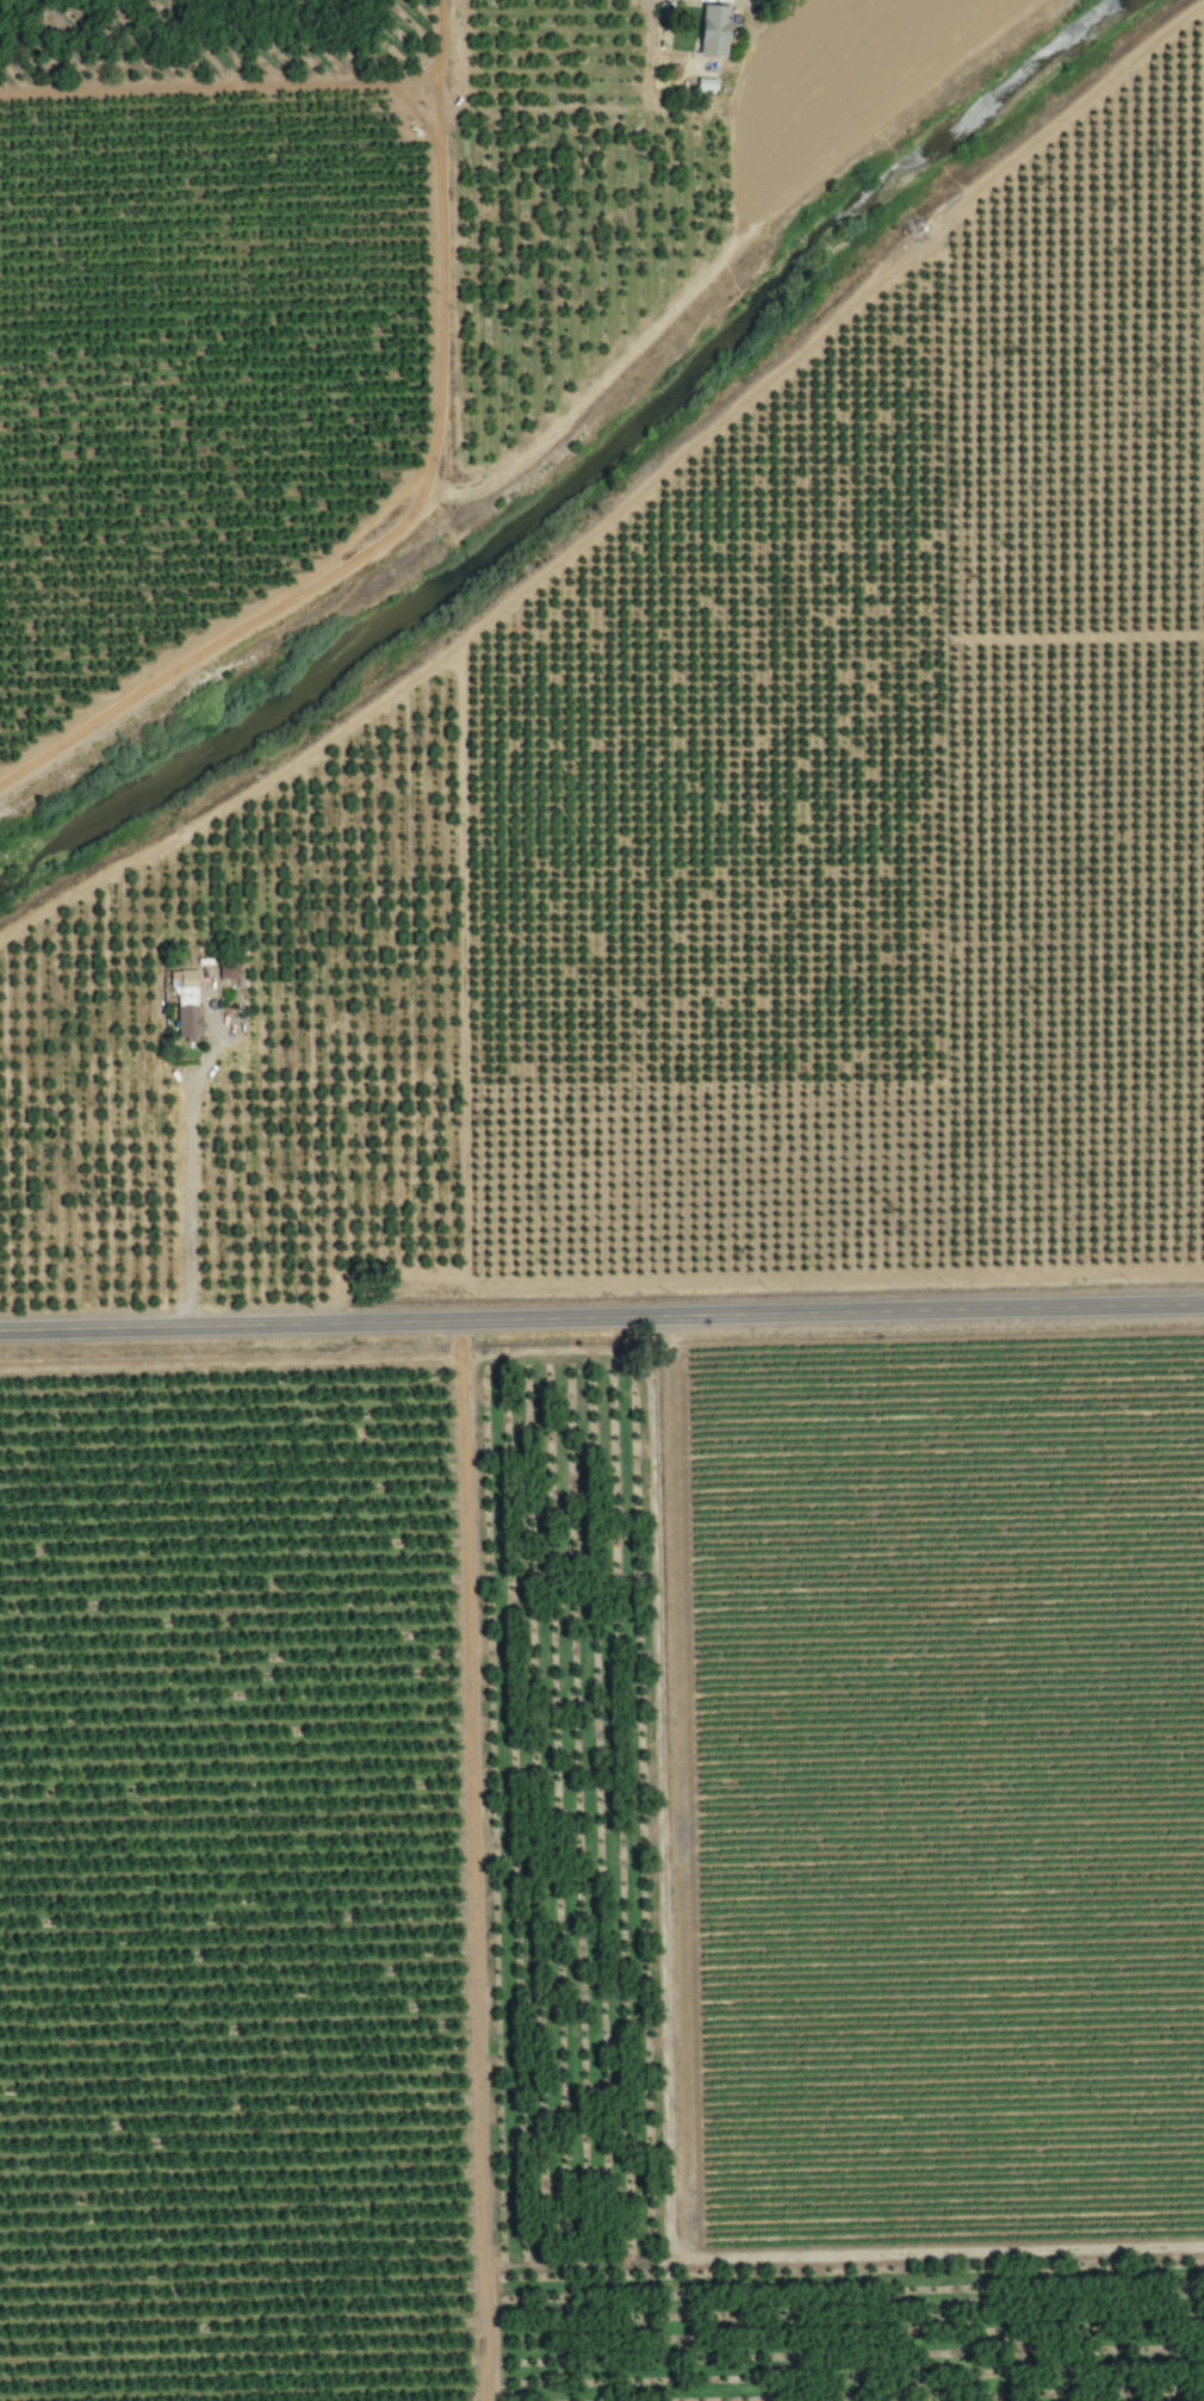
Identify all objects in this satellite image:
building: (712, 30)
building: (705, 83)
road: (406, 482)
building: (184, 1003)
road: (187, 1164)
road: (601, 1320)

